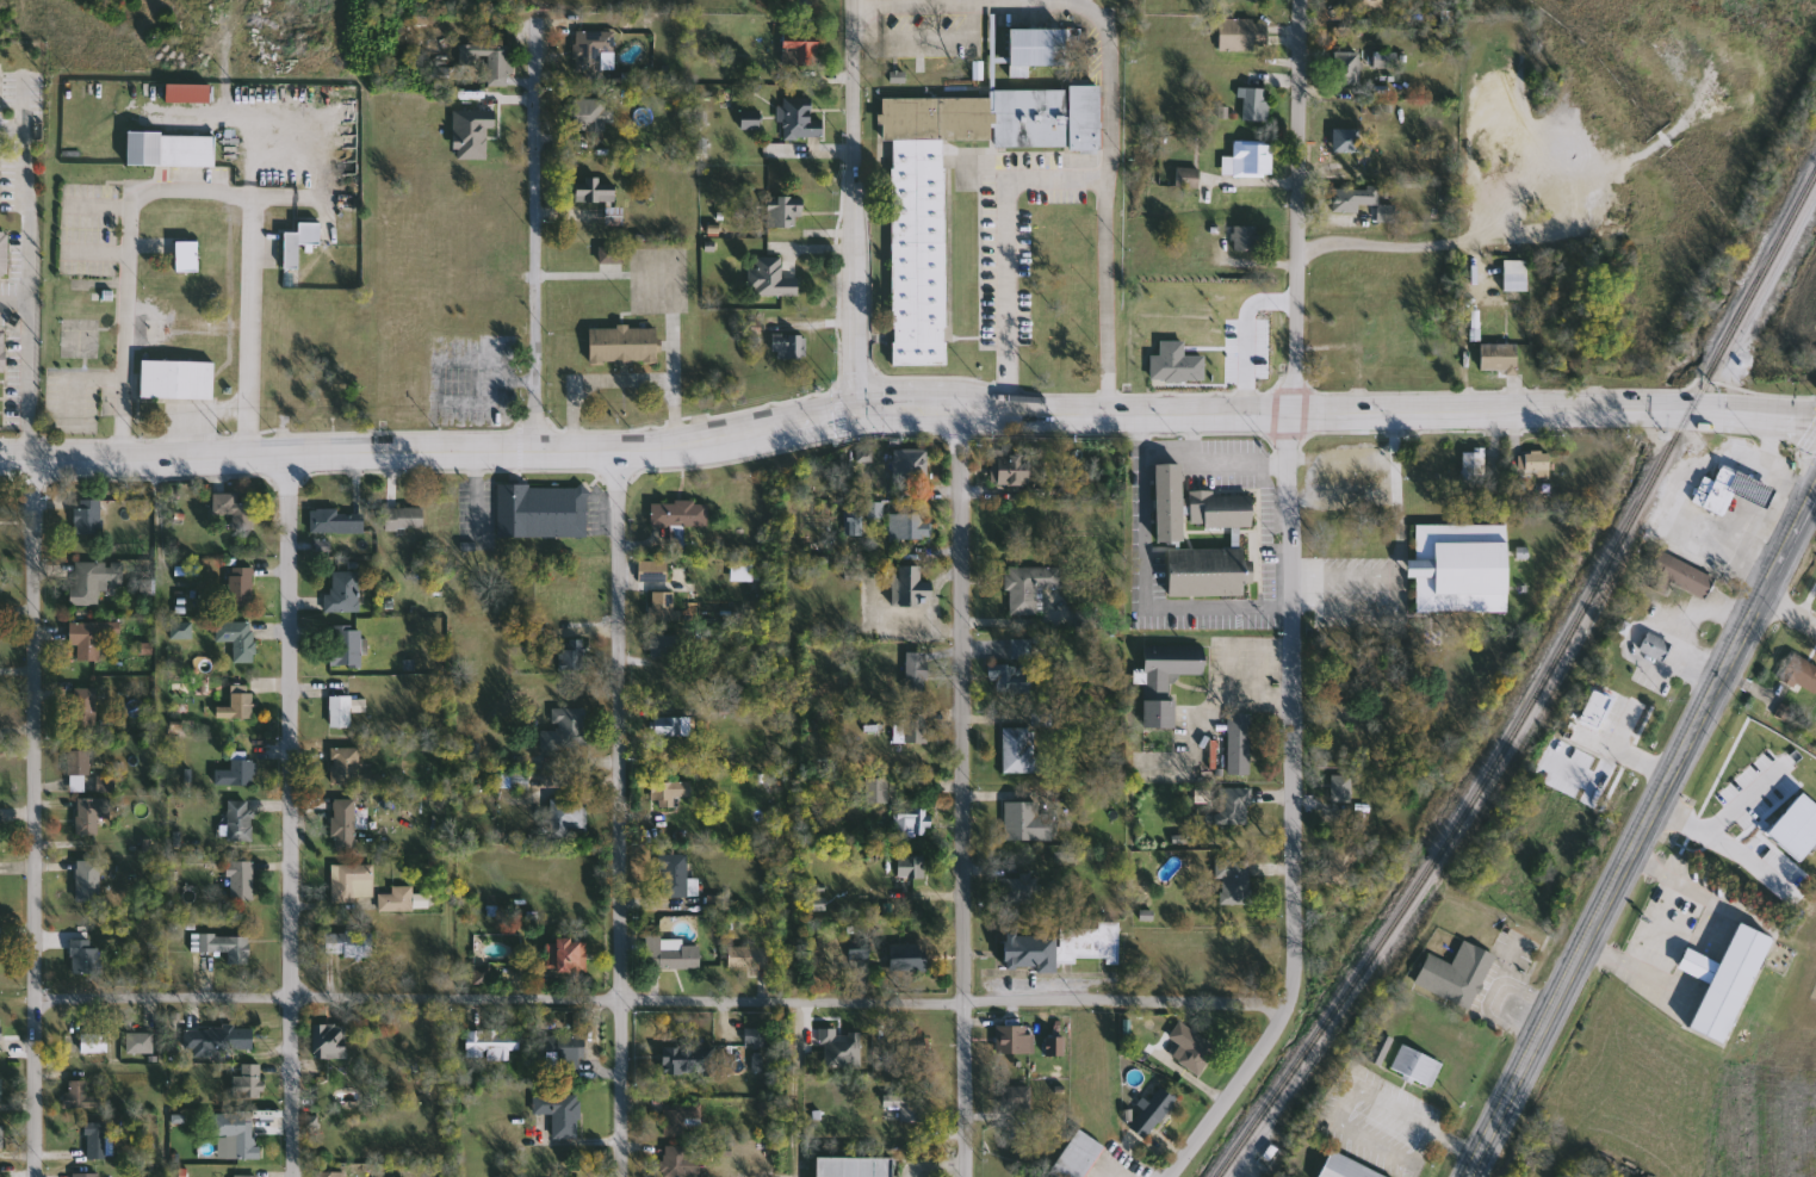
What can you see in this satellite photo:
road: (936, 1)
building: (1370, 5)
building: (1242, 35)
building: (800, 51)
building: (593, 52)
building: (490, 61)
building: (1386, 61)
building: (1347, 68)
building: (959, 76)
road: (1105, 82)
building: (1254, 105)
building: (593, 112)
building: (798, 119)
road: (14, 124)
building: (1346, 141)
building: (171, 150)
building: (1250, 160)
building: (1188, 178)
road: (1058, 179)
building: (595, 191)
road: (193, 192)
building: (1352, 199)
road: (856, 206)
building: (783, 213)
road: (538, 229)
road: (699, 231)
building: (1246, 239)
road: (1381, 248)
building: (291, 250)
building: (4, 253)
building: (186, 256)
building: (918, 259)
road: (29, 270)
building: (1516, 275)
building: (771, 279)
road: (671, 298)
road: (14, 304)
road: (1241, 334)
building: (624, 346)
building: (789, 346)
building: (2, 351)
building: (1498, 358)
building: (1176, 364)
building: (178, 379)
road: (590, 382)
building: (330, 395)
road: (905, 411)
traffic signals: (859, 413)
road: (1169, 456)
road: (1219, 459)
building: (1431, 461)
building: (1474, 463)
building: (910, 464)
building: (1010, 469)
building: (1731, 490)
building: (1417, 496)
building: (1169, 503)
building: (1220, 509)
building: (543, 510)
building: (235, 512)
building: (680, 514)
building: (88, 516)
building: (404, 519)
building: (337, 521)
building: (854, 524)
building: (910, 527)
road: (1396, 543)
building: (1461, 568)
building: (653, 570)
building: (1208, 571)
road: (1151, 576)
building: (1678, 576)
building: (95, 581)
building: (913, 587)
building: (1030, 587)
building: (241, 588)
building: (343, 591)
road: (1793, 603)
road: (1362, 605)
building: (664, 607)
road: (1291, 608)
road: (1711, 611)
building: (91, 638)
building: (237, 639)
building: (663, 645)
road: (1628, 646)
building: (1655, 646)
building: (346, 648)
building: (575, 653)
road: (1709, 659)
building: (1015, 669)
building: (917, 673)
building: (1166, 680)
road: (1724, 680)
railway: (1539, 694)
building: (237, 704)
building: (85, 707)
road: (1133, 707)
building: (341, 711)
building: (671, 726)
building: (566, 729)
building: (912, 729)
building: (1345, 738)
building: (1766, 742)
building: (1239, 744)
building: (1021, 750)
road: (1622, 752)
building: (346, 766)
building: (79, 770)
building: (242, 772)
building: (1343, 788)
building: (878, 791)
railway: (1613, 791)
building: (670, 793)
road: (965, 793)
road: (789, 801)
building: (1235, 806)
road: (620, 814)
road: (289, 816)
road: (31, 817)
building: (87, 817)
road: (163, 818)
building: (569, 818)
building: (240, 820)
building: (1027, 822)
building: (913, 823)
building: (343, 825)
building: (1344, 862)
building: (911, 866)
building: (675, 876)
building: (240, 880)
building: (88, 881)
building: (353, 882)
building: (1233, 882)
building: (1019, 890)
road: (1696, 891)
building: (404, 899)
building: (1092, 942)
building: (860, 949)
building: (1029, 952)
building: (671, 955)
building: (566, 956)
building: (749, 956)
building: (86, 958)
building: (907, 958)
road: (1686, 960)
road: (1635, 965)
building: (1457, 974)
building: (1724, 980)
road: (658, 999)
road: (1549, 1017)
building: (0, 1035)
building: (218, 1041)
building: (329, 1041)
building: (93, 1042)
building: (141, 1042)
building: (1015, 1042)
building: (491, 1045)
building: (761, 1045)
building: (564, 1046)
building: (1194, 1047)
building: (1382, 1048)
building: (910, 1049)
building: (688, 1060)
building: (1418, 1065)
building: (248, 1083)
building: (1, 1086)
building: (79, 1091)
building: (1017, 1097)
road: (1345, 1098)
building: (907, 1104)
building: (1153, 1111)
building: (560, 1113)
building: (681, 1119)
building: (240, 1132)
building: (2, 1135)
building: (98, 1140)
road: (1455, 1141)
road: (1421, 1146)
building: (1079, 1156)
building: (676, 1161)
building: (854, 1166)
road: (936, 1167)
building: (1347, 1167)
building: (0, 1173)
building: (87, 1175)
building: (247, 1176)

